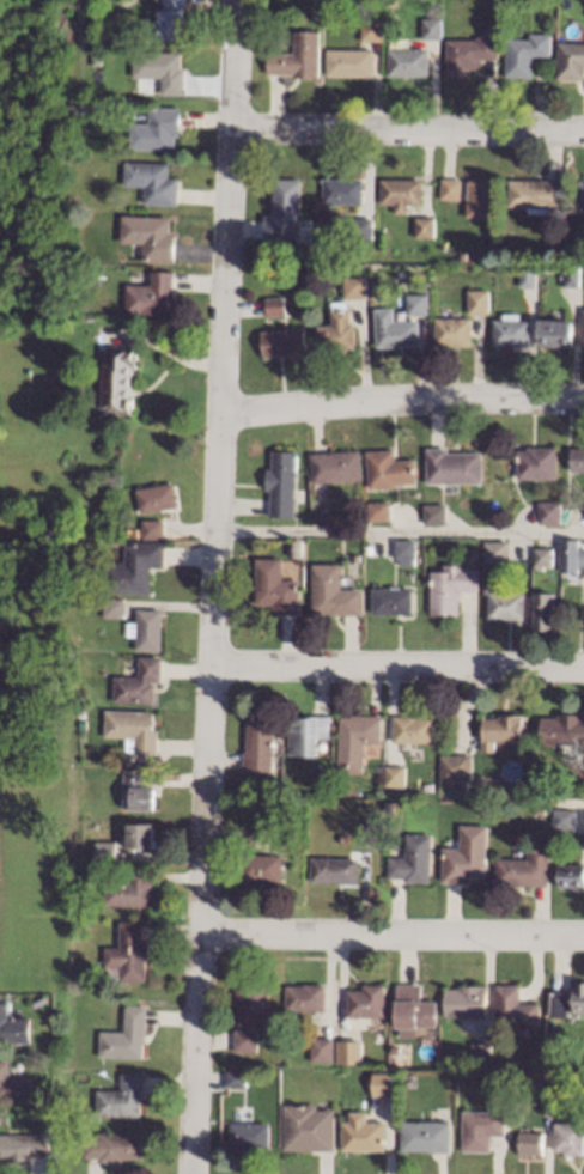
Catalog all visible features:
building: (169, 19)
building: (430, 28)
building: (369, 29)
building: (467, 54)
building: (524, 54)
building: (296, 56)
building: (92, 60)
building: (570, 60)
building: (406, 61)
building: (347, 62)
building: (158, 69)
building: (153, 129)
road: (406, 129)
building: (150, 182)
building: (449, 188)
building: (341, 190)
building: (579, 191)
building: (400, 193)
building: (536, 195)
building: (479, 199)
building: (282, 211)
building: (364, 223)
building: (424, 227)
building: (147, 236)
building: (550, 244)
building: (578, 255)
building: (399, 272)
building: (528, 275)
building: (571, 276)
building: (354, 287)
building: (147, 294)
building: (477, 300)
building: (415, 303)
building: (274, 306)
building: (582, 327)
building: (335, 329)
building: (394, 329)
building: (451, 330)
building: (510, 330)
building: (554, 333)
building: (282, 342)
building: (116, 377)
road: (400, 399)
building: (577, 460)
building: (536, 462)
building: (451, 466)
building: (334, 467)
building: (388, 469)
building: (280, 483)
building: (154, 498)
building: (359, 509)
building: (377, 511)
building: (548, 512)
building: (433, 513)
building: (316, 517)
building: (151, 529)
building: (54, 531)
road: (399, 534)
building: (296, 548)
building: (403, 550)
building: (494, 550)
building: (571, 555)
building: (353, 556)
building: (542, 556)
building: (132, 567)
building: (90, 568)
road: (212, 586)
building: (274, 586)
building: (449, 588)
building: (331, 591)
building: (391, 601)
building: (97, 602)
building: (504, 606)
building: (111, 608)
building: (542, 610)
building: (144, 628)
road: (396, 665)
building: (136, 681)
building: (78, 711)
building: (79, 724)
building: (410, 729)
building: (501, 729)
building: (562, 729)
building: (130, 730)
building: (305, 734)
building: (354, 740)
building: (257, 743)
building: (138, 759)
building: (455, 767)
building: (393, 775)
building: (134, 791)
road: (567, 802)
building: (287, 807)
building: (389, 807)
building: (539, 810)
building: (562, 819)
building: (138, 835)
building: (342, 838)
building: (102, 852)
building: (464, 856)
building: (412, 859)
building: (260, 868)
building: (522, 869)
building: (331, 870)
building: (570, 875)
building: (127, 889)
road: (391, 935)
building: (126, 954)
building: (304, 997)
building: (578, 997)
building: (365, 1002)
building: (463, 1002)
building: (251, 1003)
building: (558, 1003)
building: (412, 1008)
building: (513, 1011)
building: (13, 1028)
building: (124, 1035)
building: (244, 1041)
building: (320, 1050)
building: (347, 1052)
building: (480, 1053)
building: (460, 1057)
building: (489, 1076)
building: (235, 1078)
building: (537, 1081)
building: (381, 1084)
building: (12, 1088)
building: (561, 1088)
building: (121, 1097)
building: (306, 1127)
building: (479, 1129)
building: (360, 1133)
building: (248, 1136)
building: (424, 1136)
building: (567, 1138)
building: (529, 1143)
building: (20, 1146)
building: (111, 1146)

